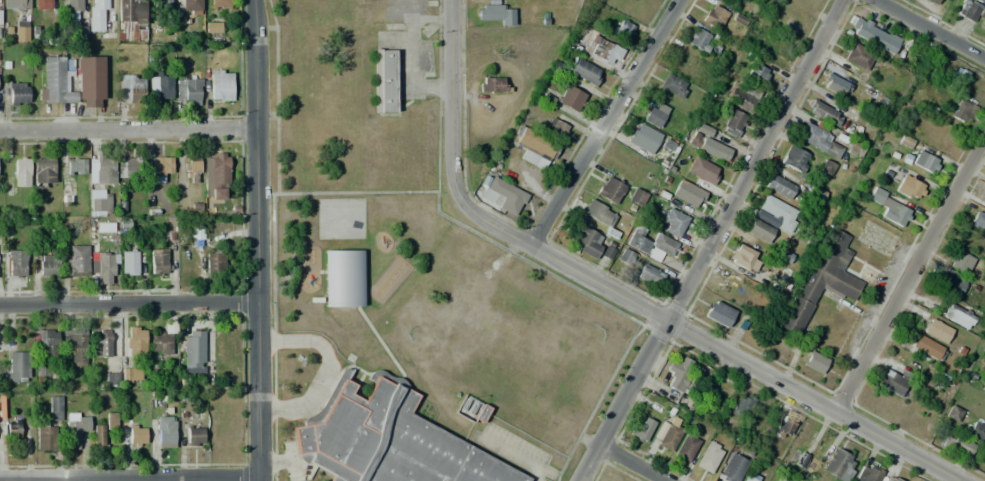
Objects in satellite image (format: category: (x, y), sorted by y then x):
building: (979, 0)
building: (931, 2)
building: (42, 4)
building: (163, 4)
building: (220, 4)
building: (16, 5)
building: (190, 7)
building: (969, 11)
building: (72, 12)
building: (495, 13)
building: (98, 15)
building: (713, 16)
building: (130, 20)
building: (0, 23)
building: (213, 27)
building: (983, 28)
building: (624, 29)
building: (20, 31)
road: (930, 31)
building: (873, 35)
building: (700, 40)
building: (489, 44)
building: (601, 53)
building: (857, 57)
building: (89, 71)
building: (584, 71)
building: (755, 72)
building: (959, 75)
building: (384, 81)
building: (833, 84)
building: (221, 85)
building: (492, 85)
building: (673, 85)
building: (160, 87)
building: (131, 88)
building: (187, 89)
building: (16, 91)
road: (450, 92)
building: (742, 95)
building: (564, 98)
building: (961, 110)
building: (822, 112)
building: (655, 114)
building: (731, 122)
road: (605, 124)
building: (555, 129)
road: (128, 130)
building: (812, 136)
building: (643, 138)
building: (706, 142)
building: (534, 146)
building: (794, 158)
building: (924, 162)
building: (129, 165)
building: (76, 166)
building: (191, 166)
building: (104, 167)
building: (161, 168)
building: (702, 170)
building: (43, 171)
building: (22, 172)
building: (215, 176)
building: (779, 186)
building: (909, 188)
building: (611, 190)
road: (357, 192)
building: (814, 193)
building: (687, 194)
building: (502, 195)
building: (637, 197)
building: (101, 203)
building: (890, 207)
building: (215, 208)
building: (599, 213)
building: (775, 213)
building: (978, 222)
building: (672, 223)
building: (759, 230)
building: (196, 233)
road: (709, 239)
road: (258, 240)
building: (588, 241)
building: (649, 242)
building: (969, 242)
building: (744, 258)
building: (215, 261)
building: (75, 262)
building: (158, 262)
building: (960, 262)
building: (16, 263)
building: (128, 263)
building: (48, 265)
building: (105, 265)
building: (649, 275)
building: (342, 278)
road: (911, 278)
building: (820, 281)
building: (952, 283)
road: (129, 303)
building: (718, 313)
building: (958, 316)
building: (936, 330)
building: (47, 337)
building: (135, 342)
building: (102, 343)
building: (160, 343)
road: (704, 343)
building: (76, 348)
building: (193, 349)
building: (927, 350)
building: (816, 362)
building: (18, 366)
building: (42, 369)
building: (678, 373)
building: (131, 375)
building: (111, 379)
building: (892, 381)
building: (983, 387)
building: (741, 406)
building: (54, 408)
building: (953, 414)
building: (759, 419)
building: (784, 424)
building: (102, 427)
building: (13, 428)
building: (75, 428)
building: (165, 428)
building: (640, 430)
building: (977, 432)
building: (670, 434)
building: (136, 435)
building: (194, 435)
building: (45, 438)
building: (386, 438)
building: (957, 446)
building: (685, 447)
building: (708, 456)
road: (630, 464)
building: (838, 465)
building: (732, 468)
building: (867, 473)
road: (128, 476)
road: (184, 478)
building: (890, 478)
building: (747, 479)
road: (17, 480)

